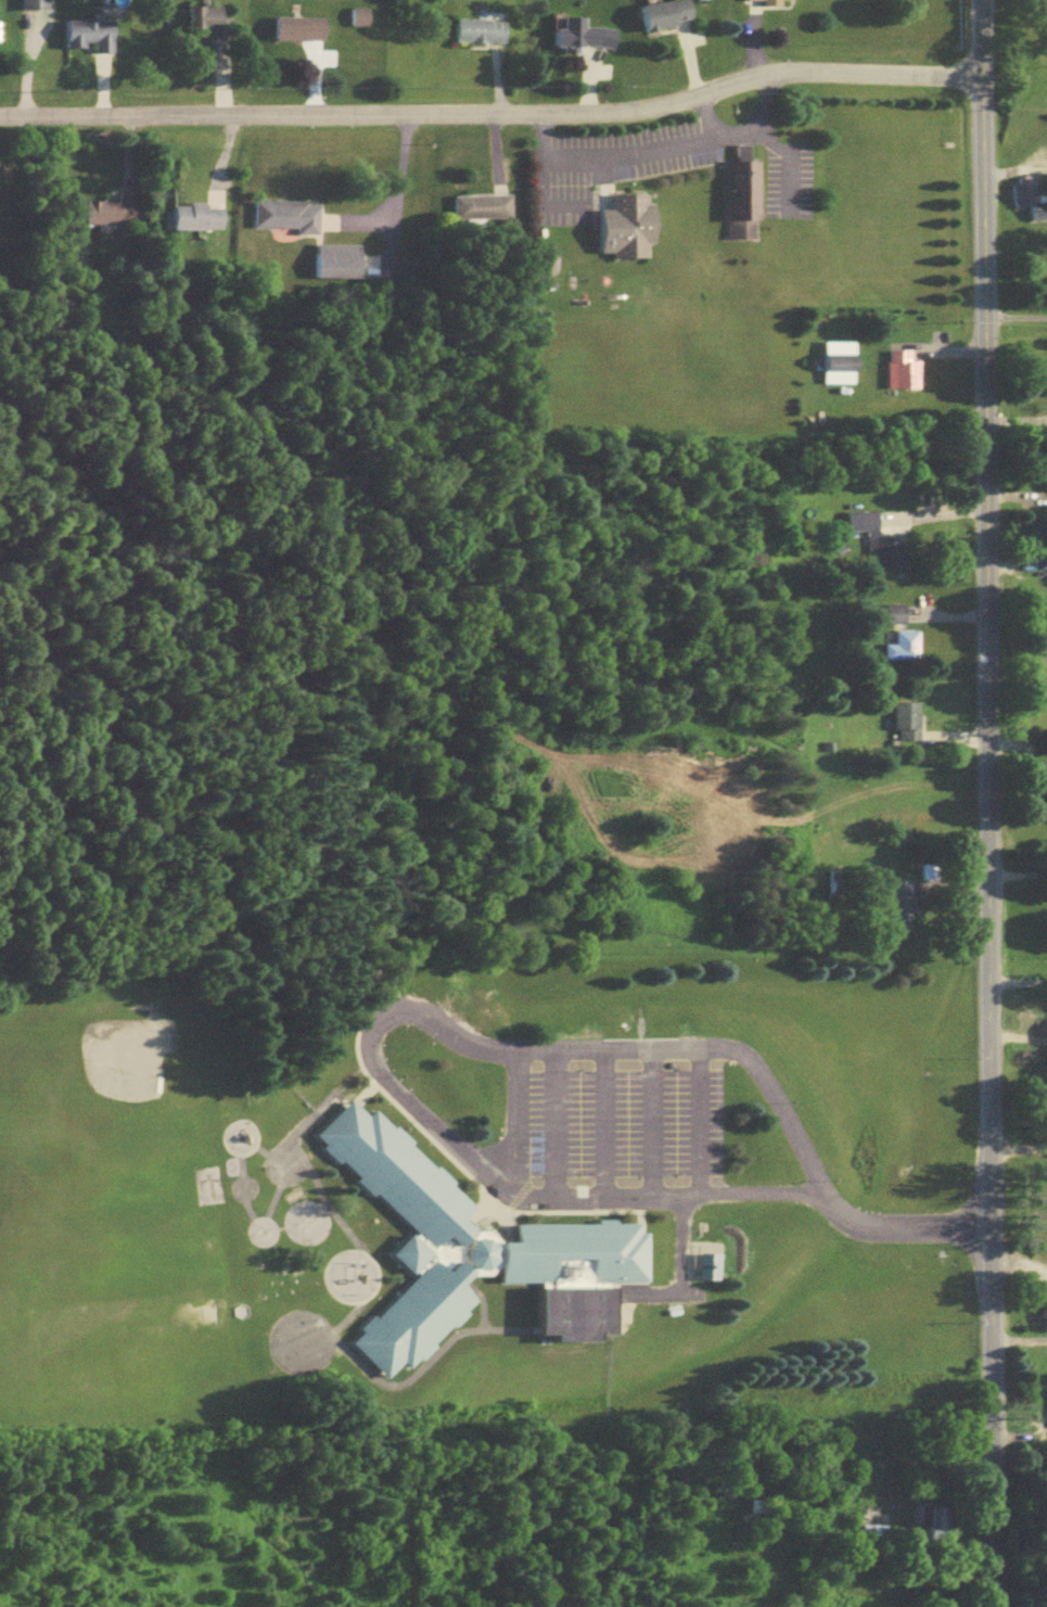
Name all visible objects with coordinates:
building: (761, 3)
building: (37, 8)
building: (661, 20)
building: (208, 27)
building: (301, 34)
building: (482, 37)
building: (91, 40)
building: (584, 40)
road: (493, 113)
road: (702, 118)
road: (654, 151)
road: (786, 165)
road: (1014, 171)
road: (393, 201)
building: (733, 204)
building: (1027, 204)
building: (483, 212)
building: (114, 218)
building: (202, 220)
building: (286, 222)
building: (616, 232)
building: (339, 267)
road: (1016, 317)
building: (830, 368)
building: (897, 375)
building: (1043, 382)
building: (1045, 484)
building: (873, 546)
building: (889, 620)
building: (898, 652)
road: (1018, 685)
building: (902, 726)
road: (989, 803)
road: (1019, 877)
building: (894, 909)
road: (1019, 986)
road: (457, 1036)
road: (1020, 1157)
road: (1020, 1255)
building: (473, 1257)
road: (680, 1267)
building: (935, 1527)
building: (868, 1540)

